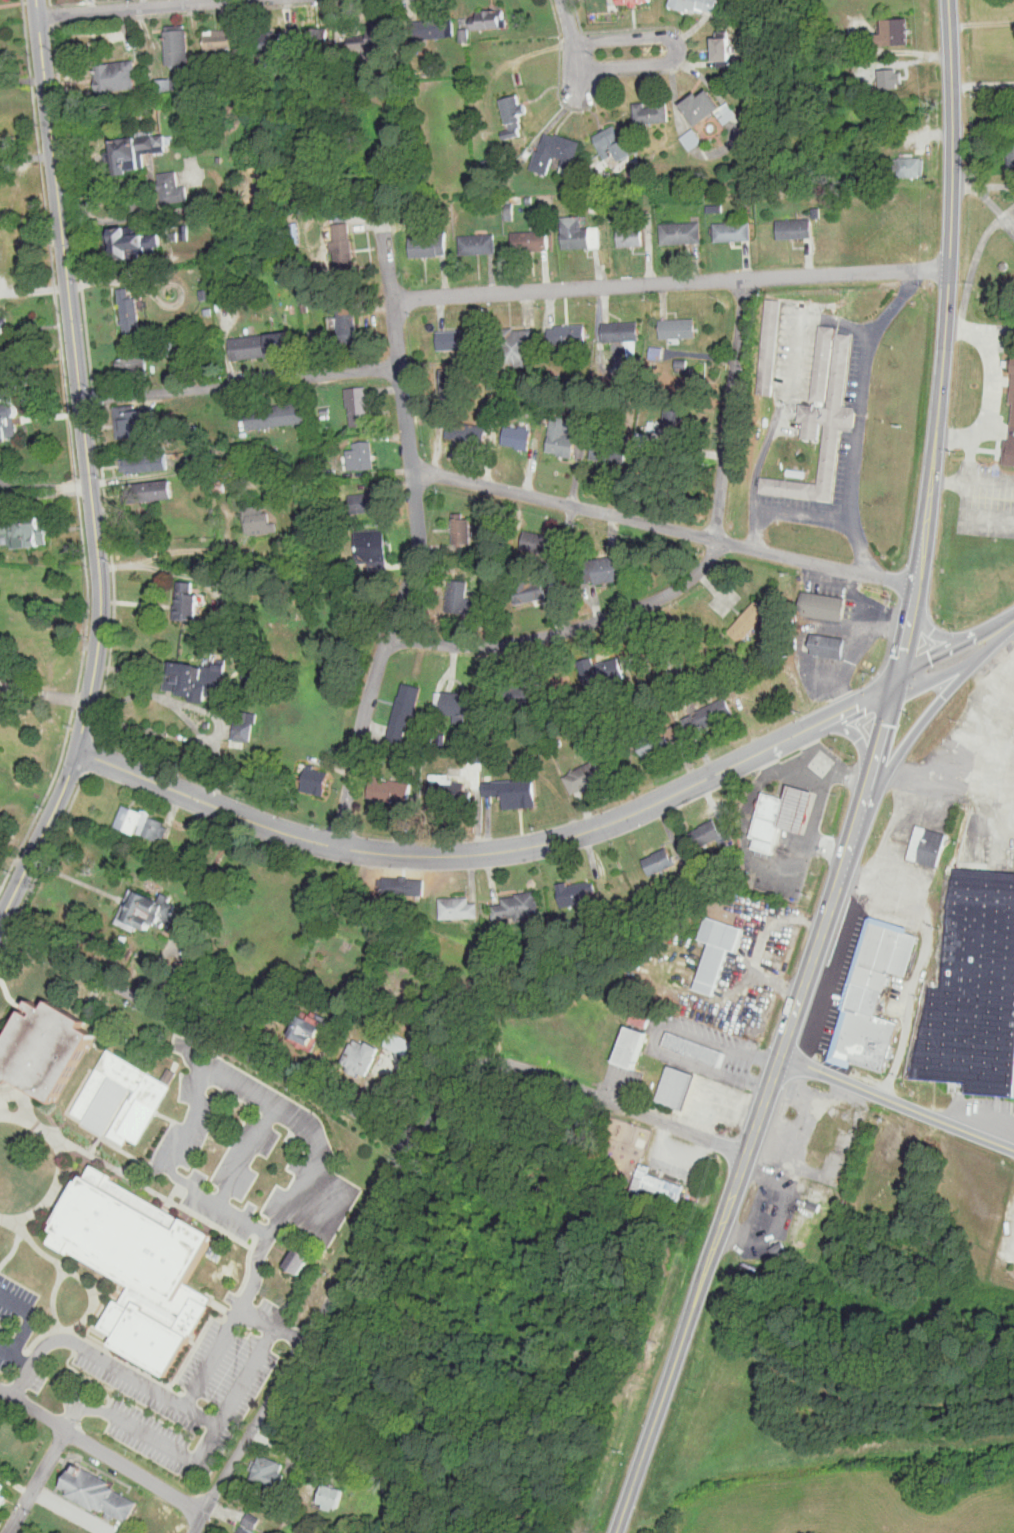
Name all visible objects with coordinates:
building: (634, 1)
building: (695, 4)
road: (143, 9)
building: (489, 19)
building: (435, 27)
building: (898, 31)
building: (466, 36)
building: (320, 37)
building: (376, 38)
building: (274, 41)
building: (220, 43)
building: (179, 44)
road: (679, 46)
road: (574, 48)
building: (726, 48)
building: (727, 63)
building: (112, 76)
building: (909, 76)
road: (22, 79)
road: (982, 83)
building: (181, 84)
building: (165, 86)
building: (705, 106)
building: (653, 112)
building: (728, 112)
building: (514, 115)
building: (693, 139)
building: (613, 142)
building: (136, 151)
building: (556, 152)
building: (1012, 153)
road: (26, 158)
building: (911, 166)
building: (173, 188)
building: (594, 209)
building: (510, 211)
building: (797, 228)
building: (735, 232)
building: (576, 233)
building: (683, 233)
building: (632, 235)
building: (532, 240)
building: (342, 241)
building: (127, 242)
building: (479, 244)
building: (430, 245)
road: (388, 266)
road: (119, 279)
road: (670, 281)
road: (34, 290)
building: (207, 294)
building: (152, 308)
building: (130, 312)
building: (350, 324)
building: (679, 328)
building: (623, 332)
building: (3, 333)
building: (569, 333)
building: (457, 340)
building: (282, 343)
building: (519, 346)
building: (249, 347)
building: (768, 347)
building: (174, 348)
building: (657, 353)
building: (825, 363)
building: (134, 364)
building: (683, 366)
road: (993, 368)
building: (1010, 381)
building: (453, 383)
road: (240, 384)
road: (788, 386)
building: (1013, 399)
building: (359, 404)
building: (277, 413)
building: (830, 416)
road: (861, 416)
building: (7, 418)
building: (137, 421)
building: (467, 432)
building: (518, 437)
building: (566, 437)
road: (971, 438)
building: (644, 439)
building: (610, 452)
building: (1010, 452)
building: (361, 454)
building: (146, 460)
road: (88, 470)
building: (797, 473)
road: (948, 482)
road: (44, 486)
building: (151, 488)
road: (965, 497)
building: (364, 500)
road: (787, 511)
building: (258, 518)
building: (463, 527)
road: (663, 527)
building: (24, 533)
building: (541, 541)
building: (371, 548)
road: (167, 552)
building: (612, 566)
road: (414, 576)
road: (692, 583)
building: (531, 590)
building: (461, 596)
building: (187, 600)
building: (825, 604)
building: (750, 619)
road: (1012, 628)
building: (828, 636)
road: (952, 636)
building: (825, 645)
road: (954, 651)
building: (676, 655)
building: (252, 665)
building: (200, 667)
building: (602, 670)
traffic signals: (895, 685)
building: (517, 693)
road: (44, 694)
road: (199, 698)
road: (941, 699)
building: (462, 705)
building: (406, 707)
building: (718, 711)
building: (693, 722)
road: (163, 725)
building: (244, 725)
building: (677, 732)
road: (855, 734)
building: (654, 740)
building: (477, 754)
building: (594, 773)
building: (316, 779)
road: (867, 783)
building: (392, 788)
road: (943, 788)
building: (448, 789)
building: (515, 791)
gas station: (801, 797)
road: (1012, 802)
building: (772, 810)
road: (1012, 819)
building: (140, 822)
building: (928, 832)
building: (712, 834)
road: (494, 851)
building: (661, 860)
building: (404, 884)
building: (577, 893)
building: (519, 906)
building: (459, 907)
building: (146, 908)
building: (725, 921)
building: (888, 938)
road: (923, 957)
building: (716, 962)
building: (870, 965)
building: (312, 980)
building: (180, 983)
building: (865, 987)
building: (974, 992)
building: (640, 1016)
building: (866, 1027)
building: (308, 1030)
road: (210, 1031)
building: (46, 1032)
road: (660, 1036)
building: (634, 1047)
road: (191, 1048)
building: (695, 1048)
building: (363, 1055)
building: (150, 1084)
road: (236, 1087)
building: (678, 1087)
road: (897, 1097)
road: (610, 1102)
road: (979, 1115)
road: (265, 1124)
building: (802, 1151)
building: (659, 1172)
road: (175, 1175)
building: (656, 1184)
road: (335, 1194)
building: (877, 1194)
road: (272, 1231)
building: (140, 1254)
building: (296, 1261)
road: (334, 1290)
road: (32, 1316)
road: (260, 1317)
road: (6, 1350)
road: (214, 1356)
road: (105, 1359)
road: (22, 1360)
road: (204, 1447)
road: (103, 1450)
building: (270, 1472)
road: (38, 1481)
building: (1, 1487)
building: (98, 1493)
building: (333, 1498)
building: (2, 1501)
road: (71, 1510)
building: (252, 1521)
building: (244, 1530)

